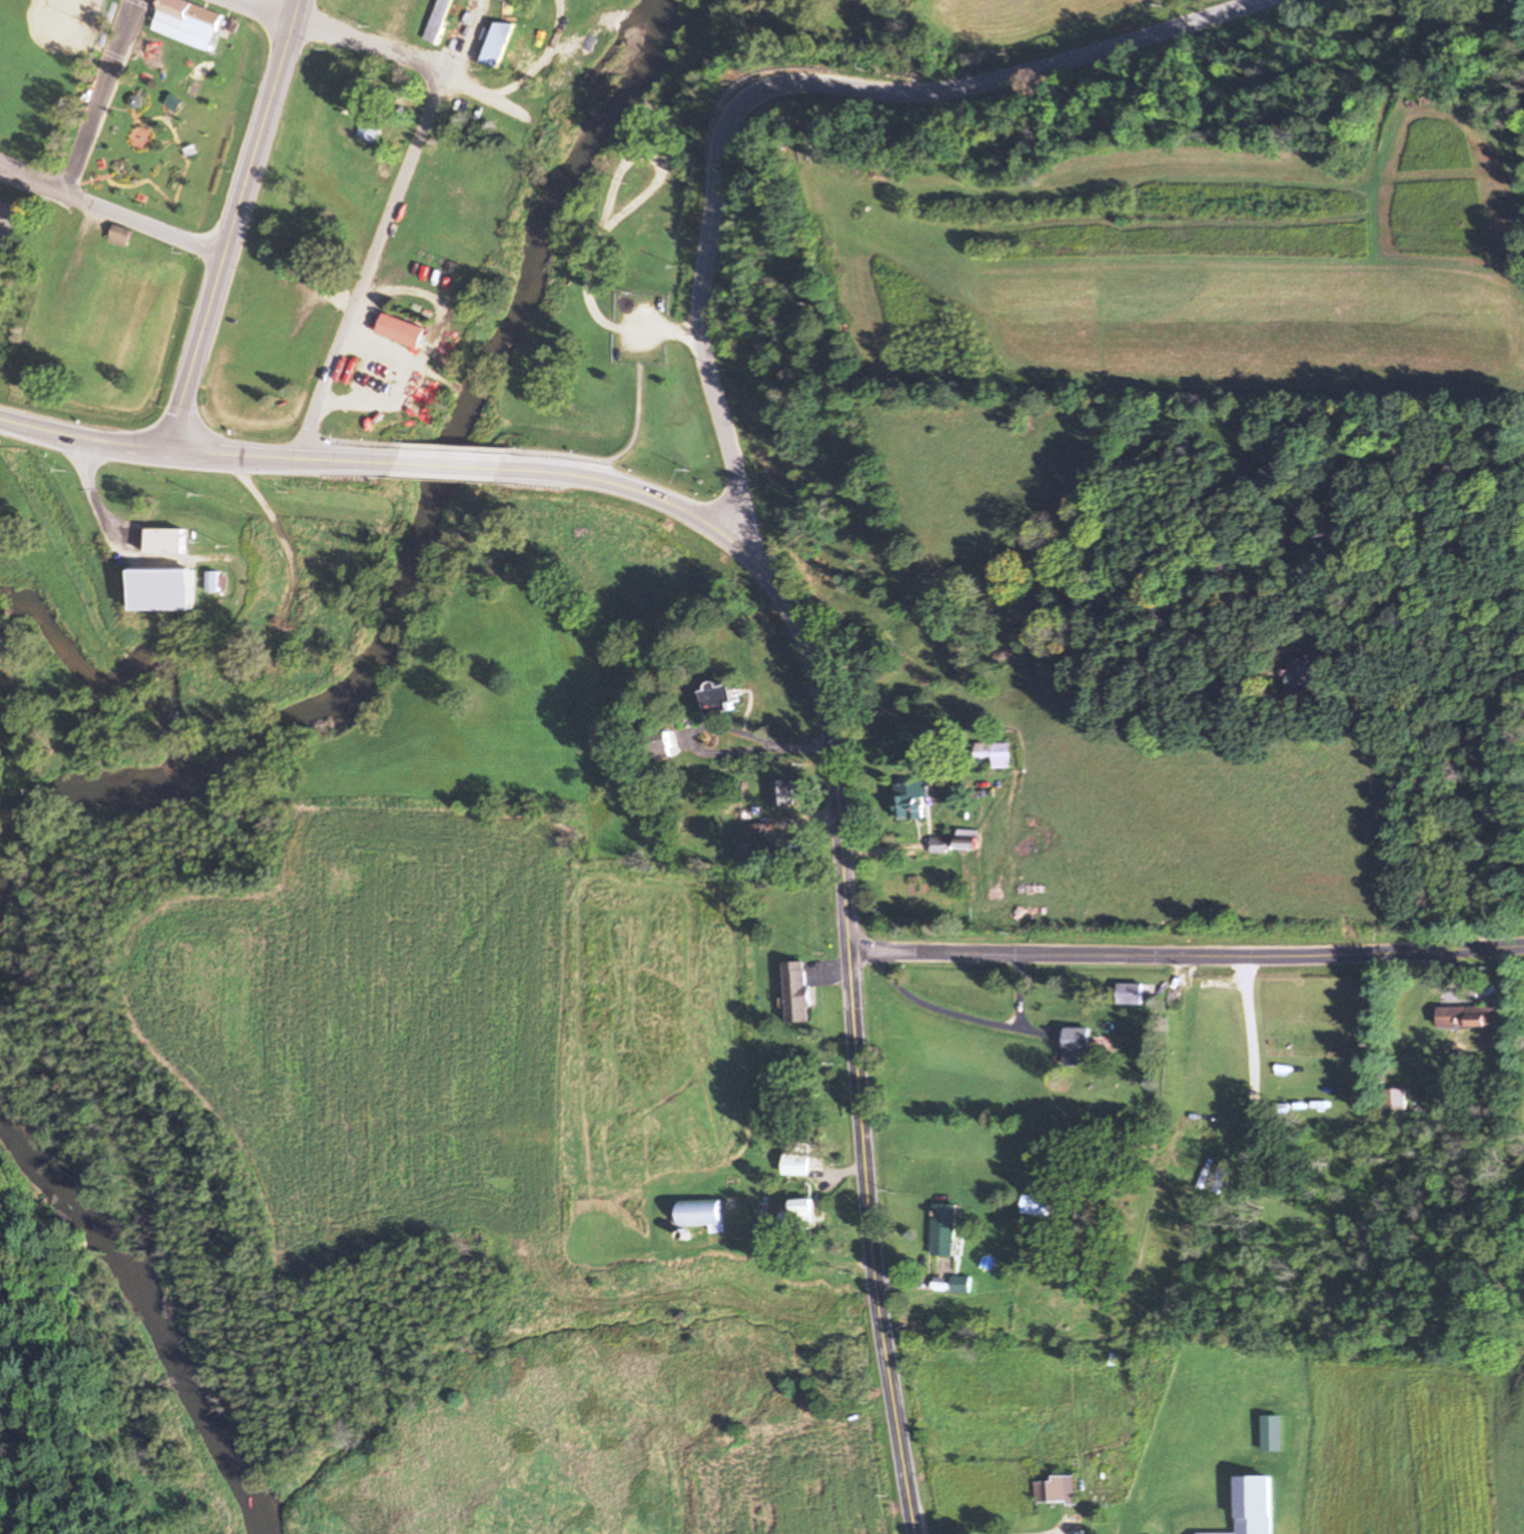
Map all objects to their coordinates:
road: (268, 11)
building: (439, 15)
building: (189, 24)
building: (497, 33)
road: (785, 84)
road: (105, 96)
park: (122, 110)
building: (370, 118)
road: (401, 185)
road: (113, 209)
road: (237, 219)
building: (122, 236)
building: (402, 321)
road: (84, 433)
road: (284, 448)
road: (450, 459)
road: (630, 481)
building: (169, 531)
river: (428, 534)
building: (211, 569)
building: (163, 576)
building: (214, 581)
building: (1301, 674)
building: (720, 686)
road: (715, 720)
building: (660, 732)
road: (830, 733)
building: (664, 743)
building: (997, 746)
building: (783, 785)
building: (909, 792)
building: (968, 833)
building: (939, 838)
building: (943, 846)
road: (1519, 939)
road: (1181, 949)
building: (795, 983)
building: (1127, 983)
road: (1018, 986)
road: (1471, 991)
building: (1131, 993)
road: (953, 1009)
building: (1472, 1017)
building: (1076, 1037)
building: (1396, 1100)
building: (1206, 1132)
building: (798, 1165)
building: (1038, 1206)
building: (704, 1213)
building: (802, 1213)
building: (945, 1230)
road: (872, 1241)
river: (152, 1306)
building: (1272, 1434)
building: (1058, 1490)
road: (1032, 1532)
building: (1266, 1533)

